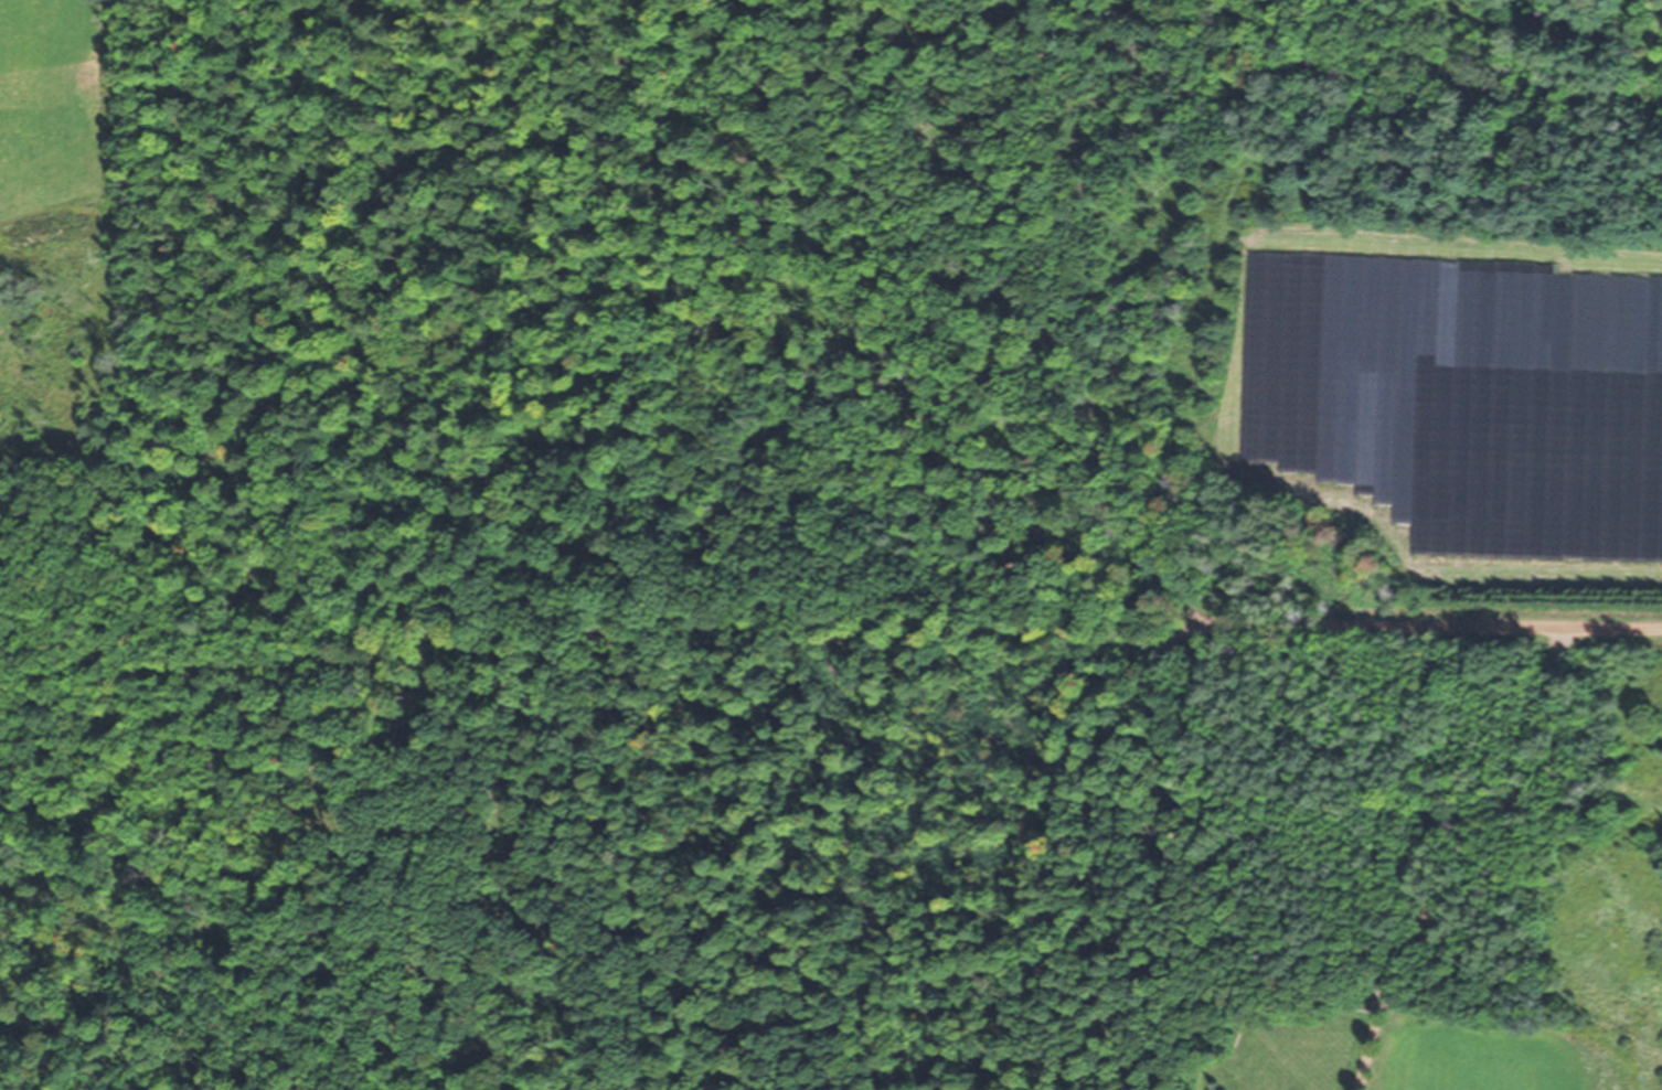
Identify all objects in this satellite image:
road: (1425, 629)

